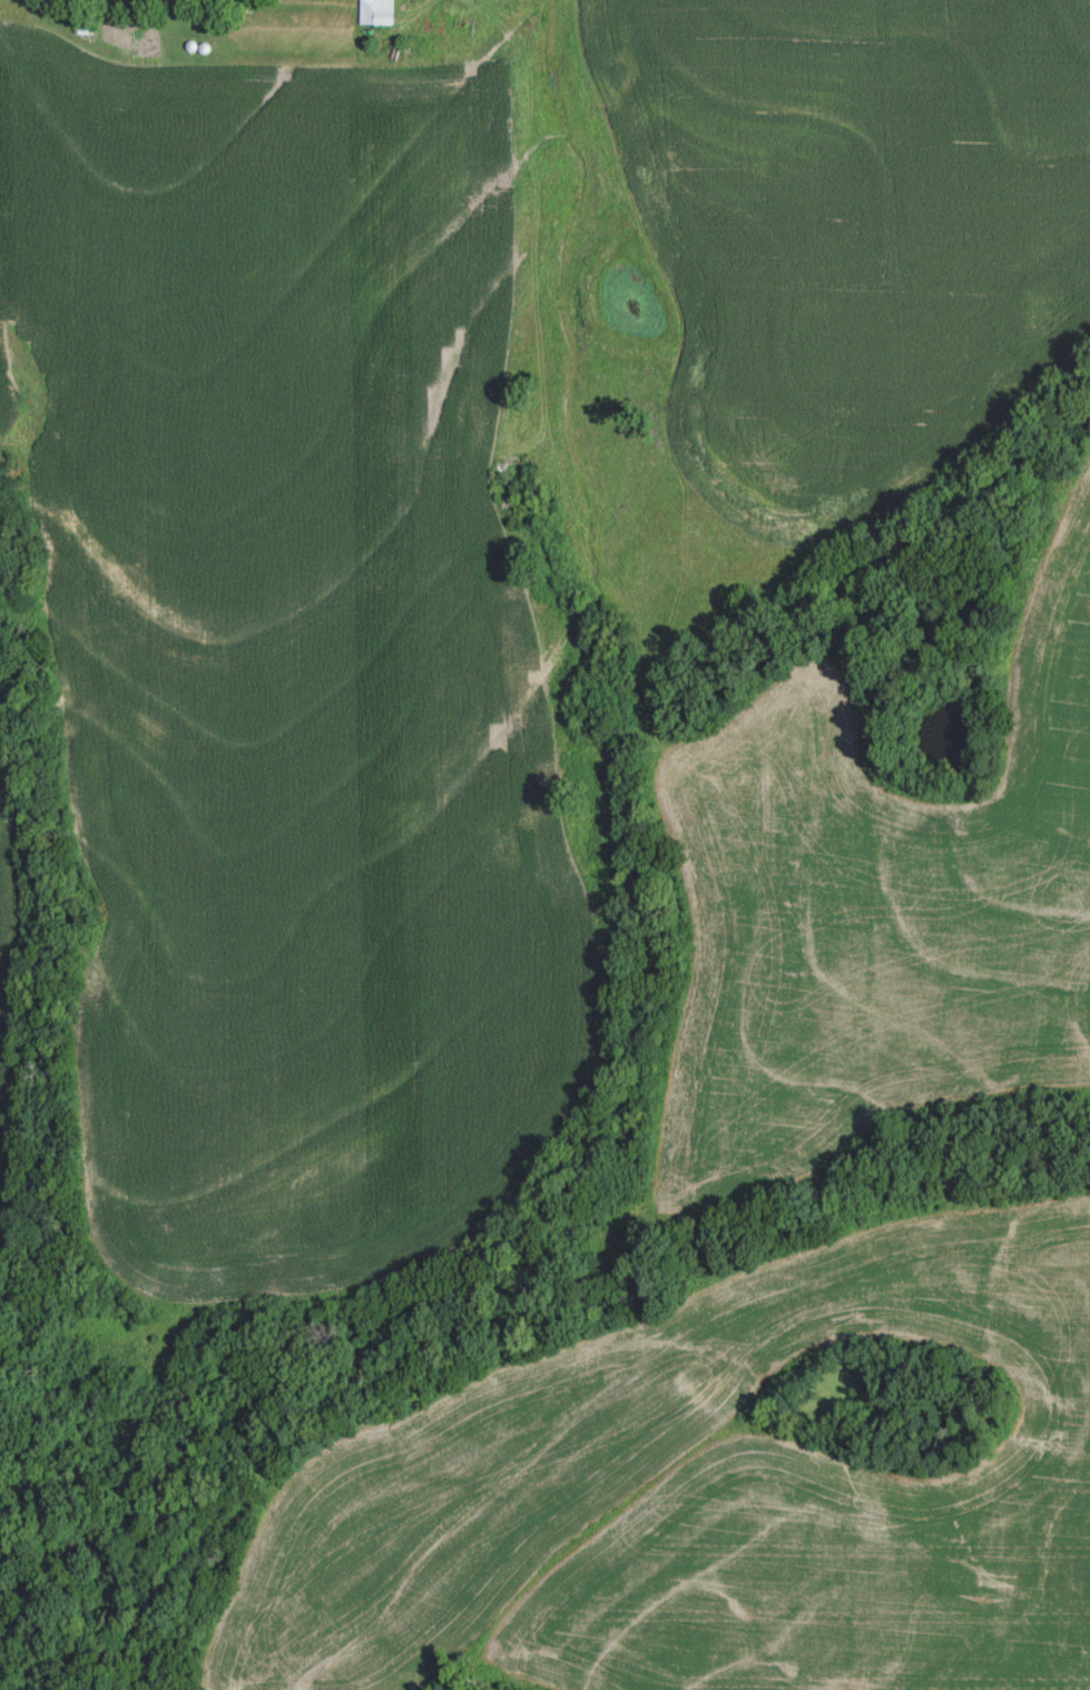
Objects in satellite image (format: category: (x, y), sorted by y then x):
building: (375, 12)
building: (82, 24)

